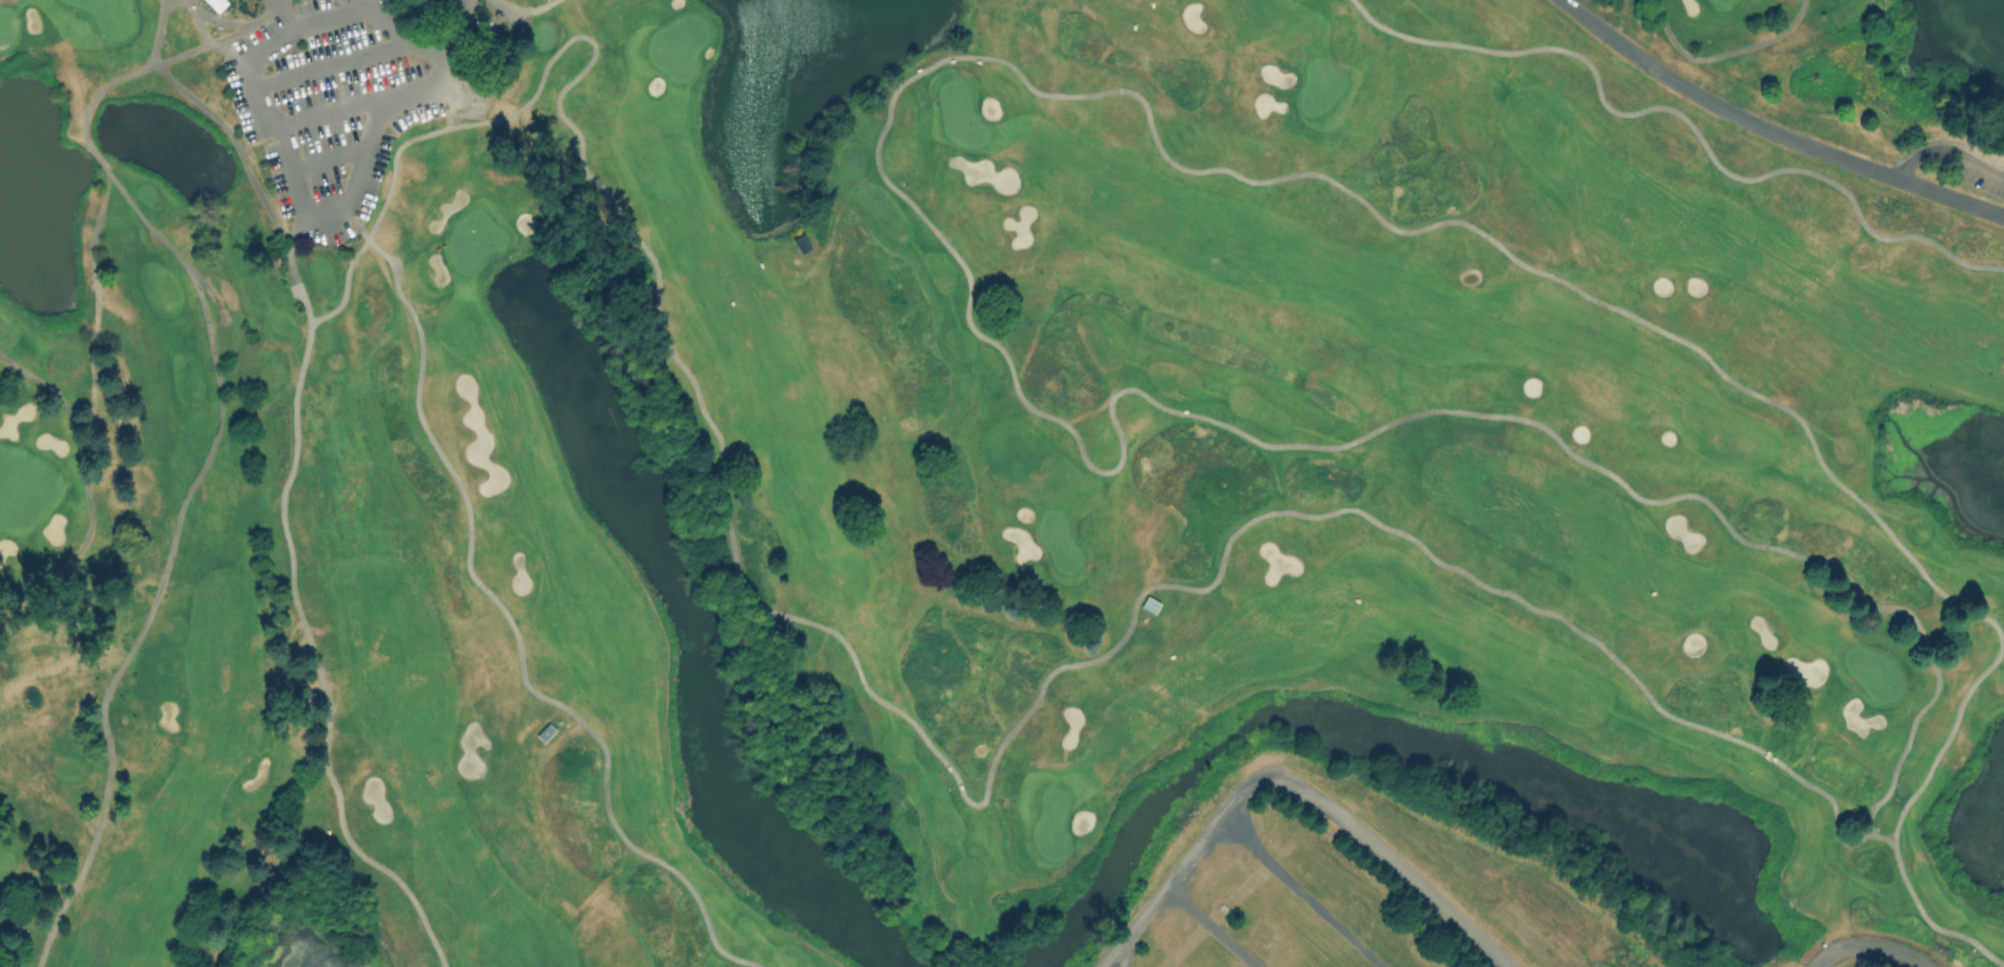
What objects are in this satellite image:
road: (187, 2)
building: (216, 3)
road: (526, 8)
road: (286, 13)
road: (219, 19)
road: (426, 19)
road: (399, 29)
road: (1723, 50)
road: (331, 62)
road: (335, 108)
road: (1685, 116)
road: (1772, 130)
road: (1947, 148)
road: (294, 185)
road: (346, 285)
park: (978, 459)
road: (202, 462)
road: (287, 475)
road: (84, 478)
road: (1691, 494)
building: (1149, 603)
road: (510, 624)
building: (545, 730)
road: (1289, 783)
road: (1879, 834)
stadium: (1393, 875)
road: (1869, 943)
stadium: (1866, 960)

